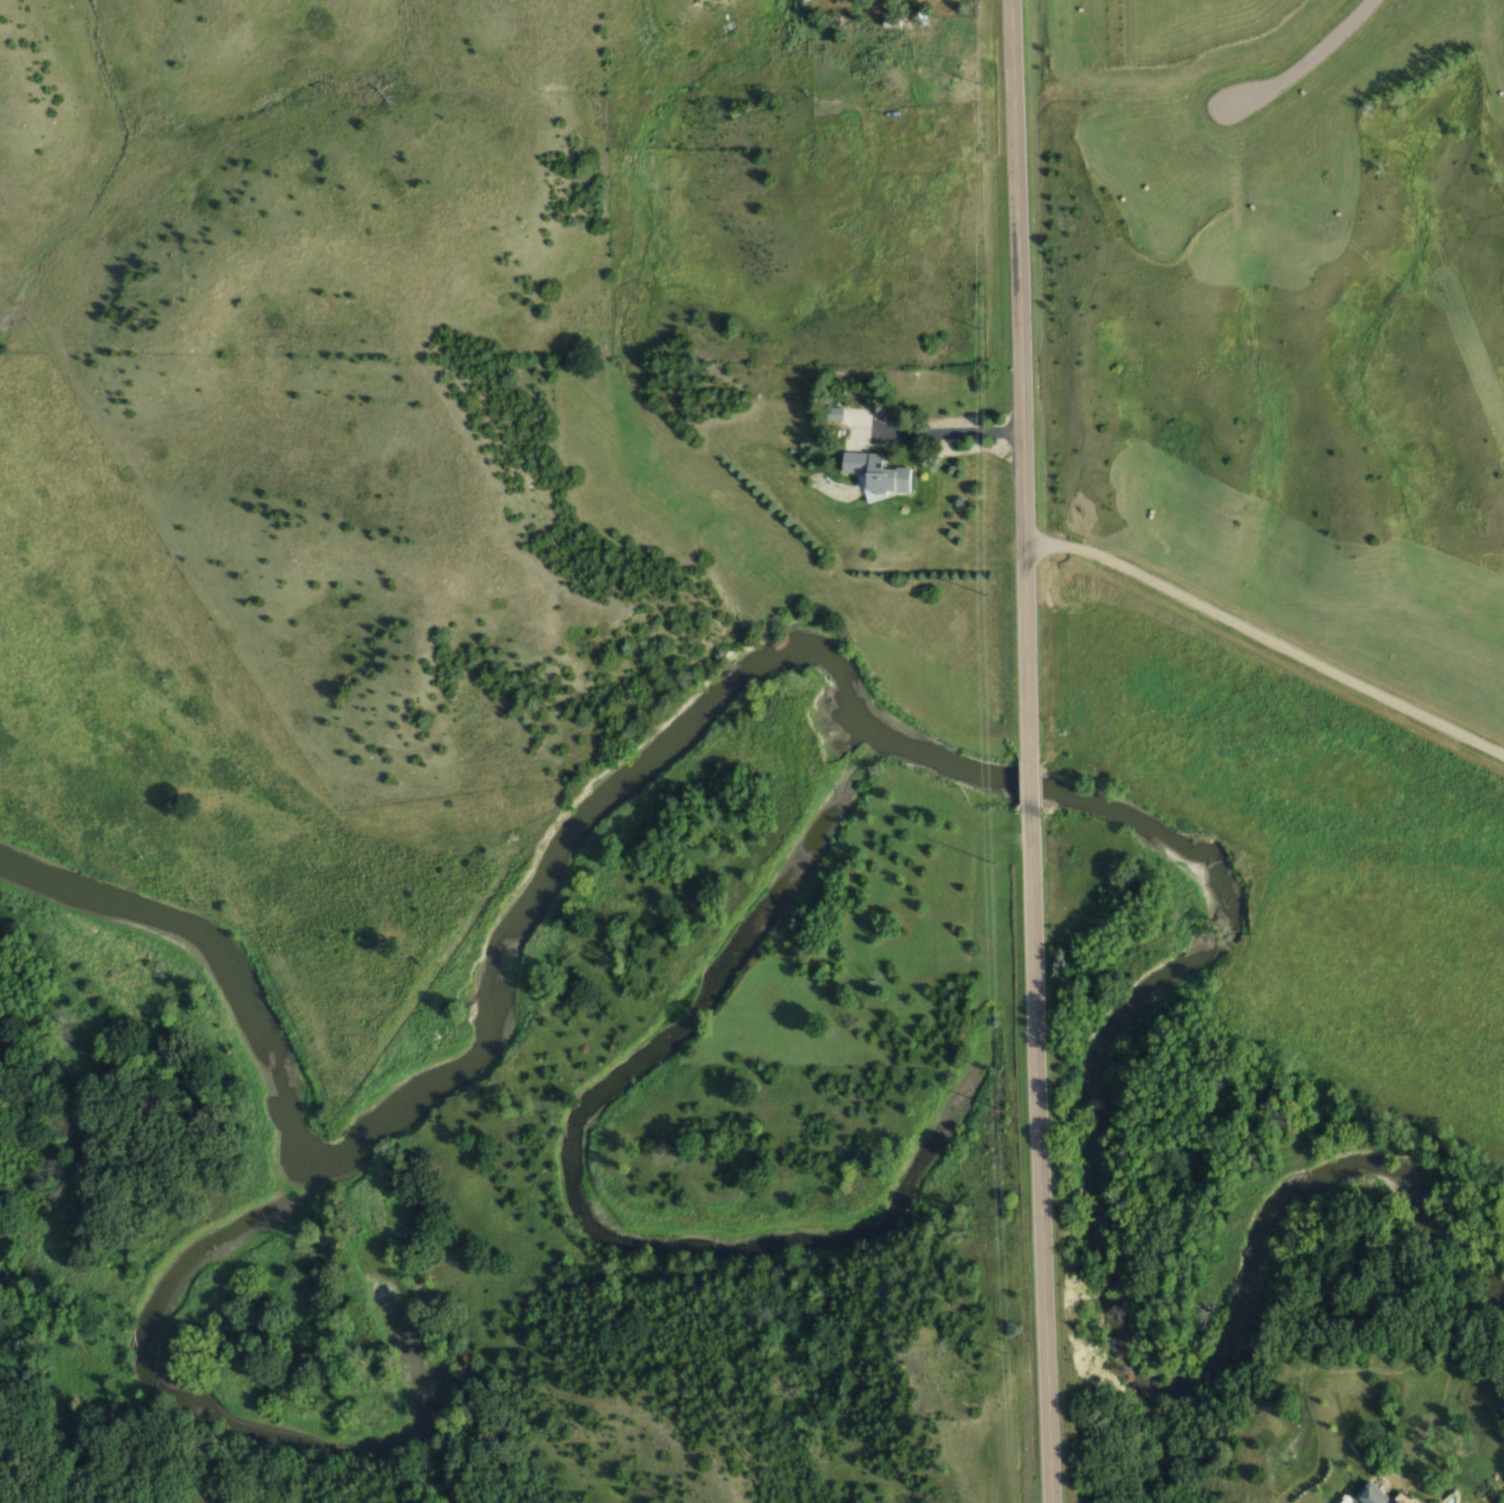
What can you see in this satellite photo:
building: (899, 21)
road: (1304, 60)
road: (1019, 379)
road: (948, 430)
building: (887, 475)
road: (1267, 639)
river: (919, 754)
road: (1025, 785)
road: (1037, 1157)
building: (1366, 1496)

